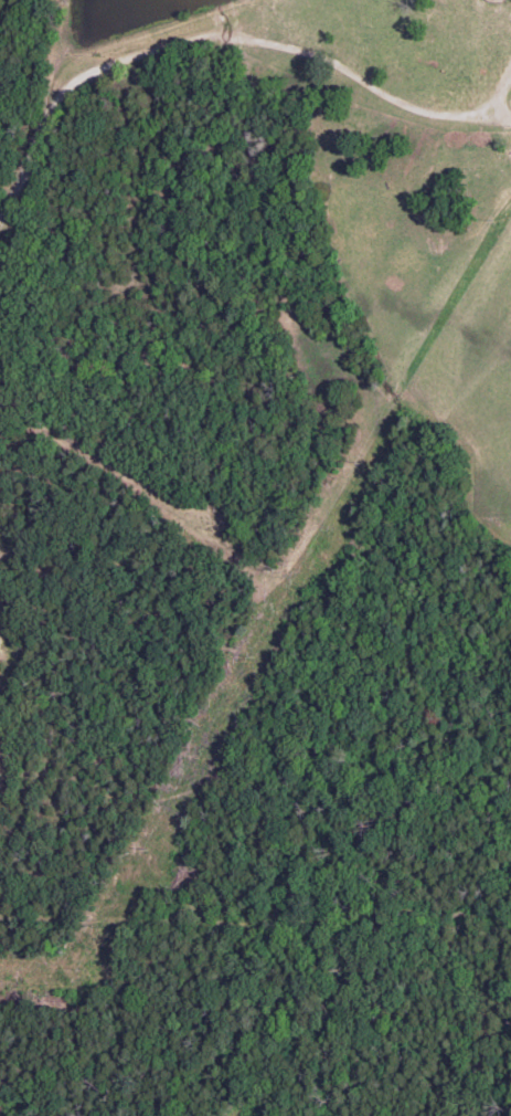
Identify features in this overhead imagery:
road: (227, 35)

